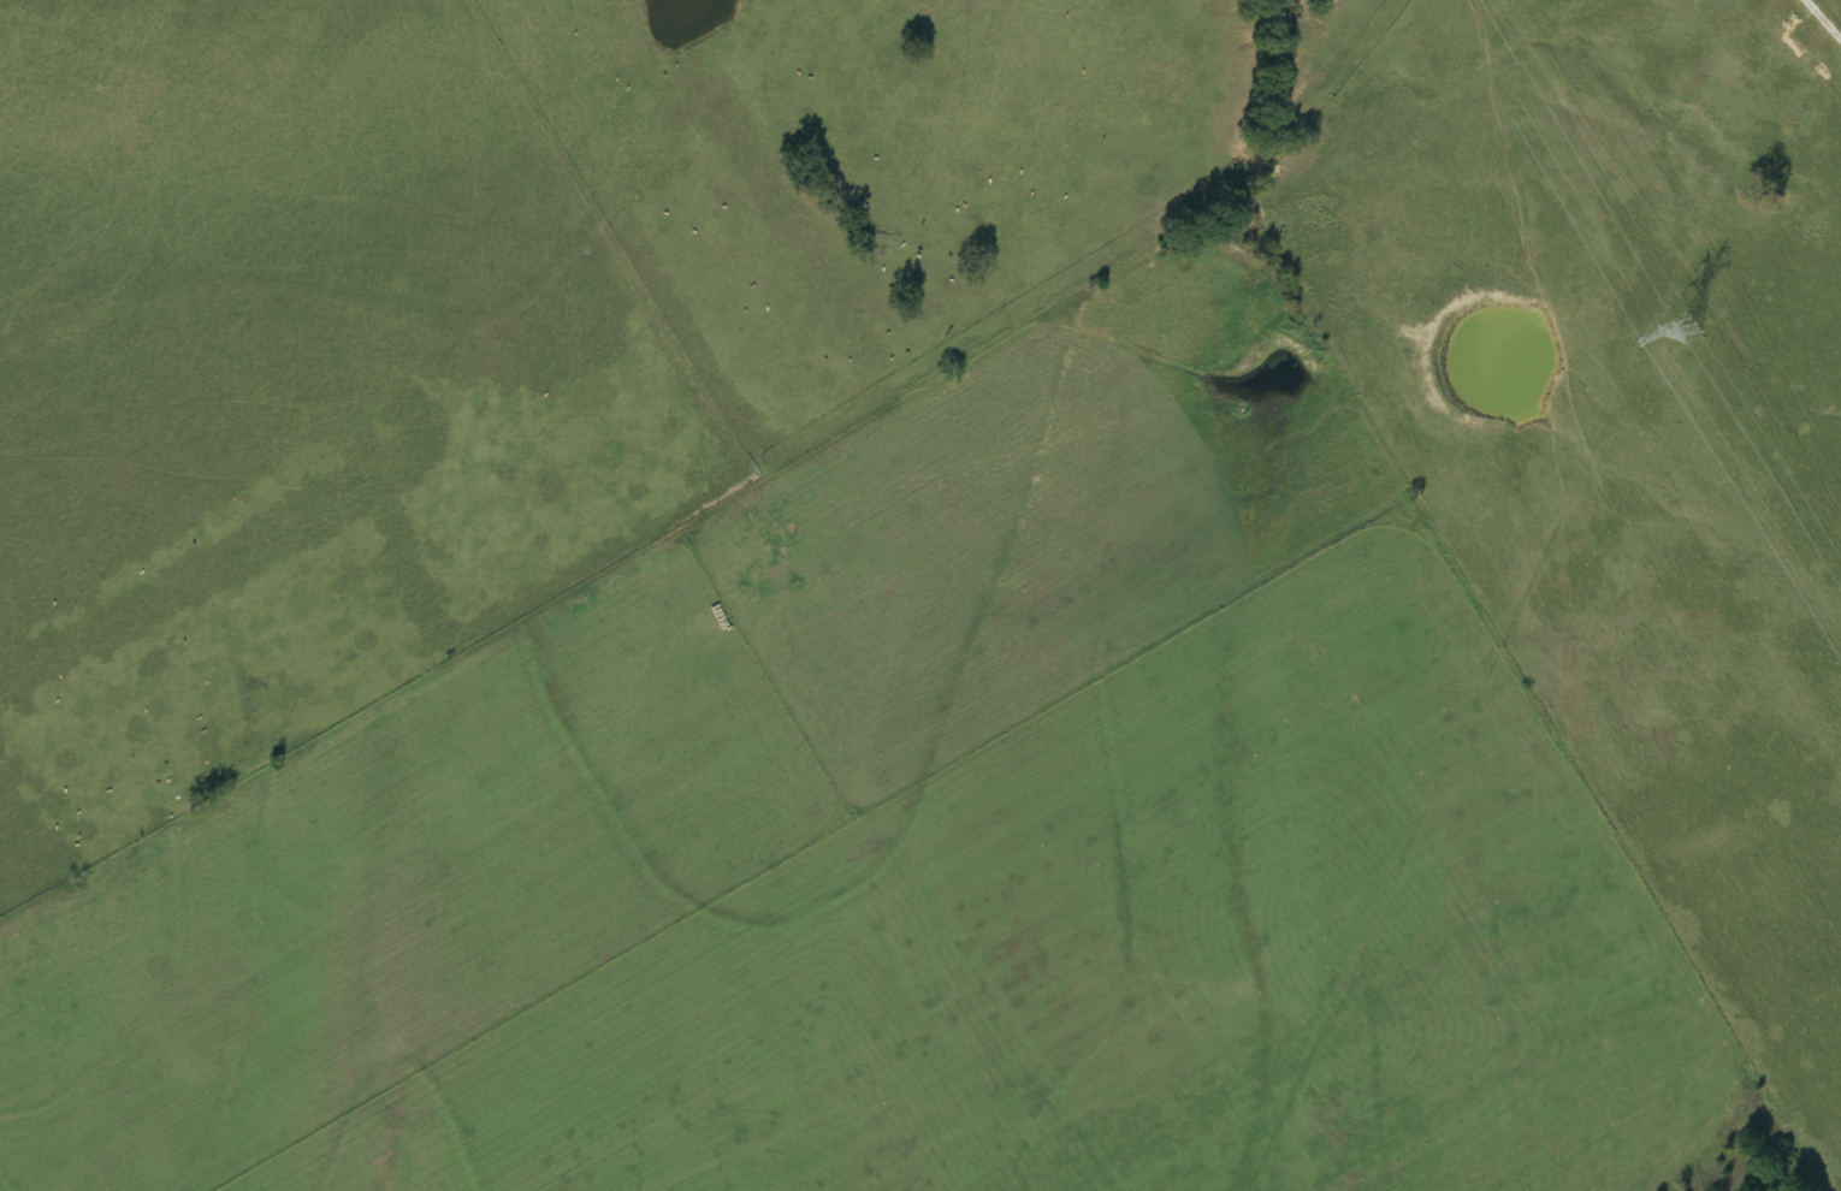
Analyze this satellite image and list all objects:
power tower: (1697, 328)

